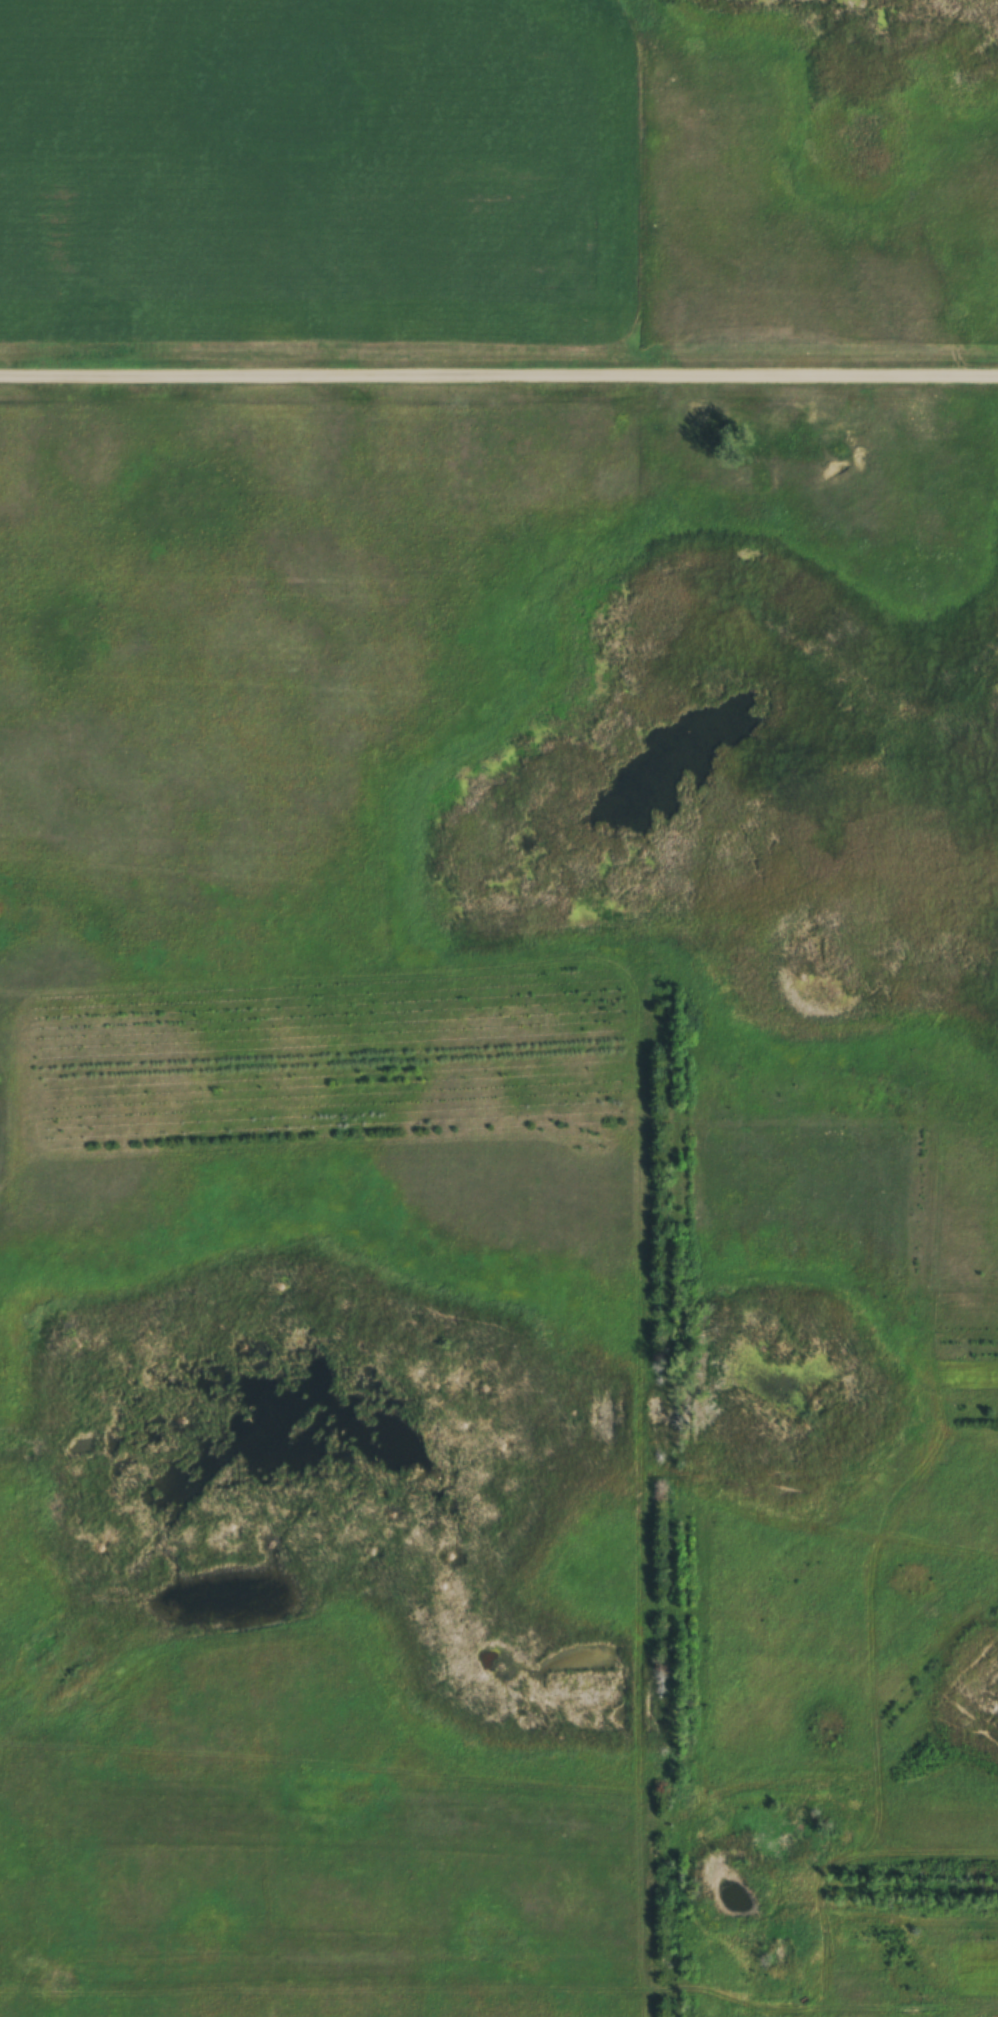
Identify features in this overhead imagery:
road: (498, 371)

